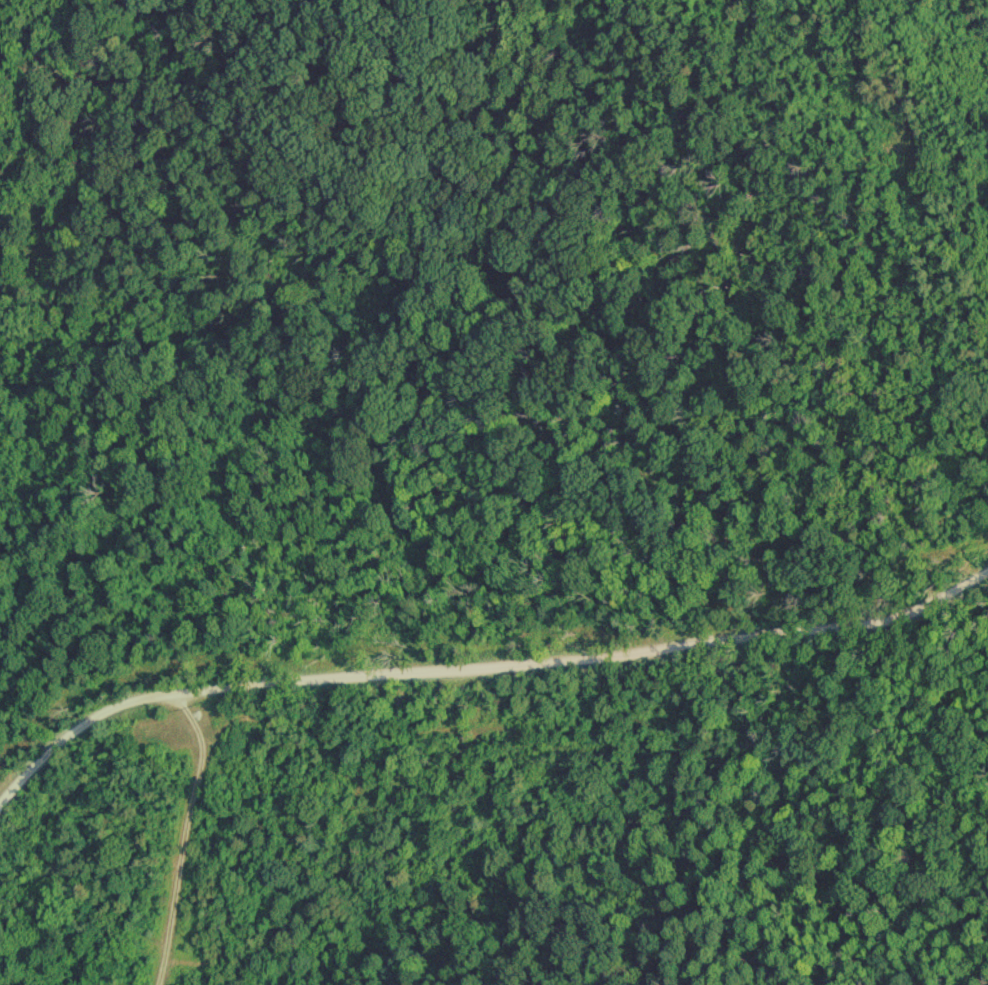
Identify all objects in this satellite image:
road: (480, 668)
road: (184, 834)

